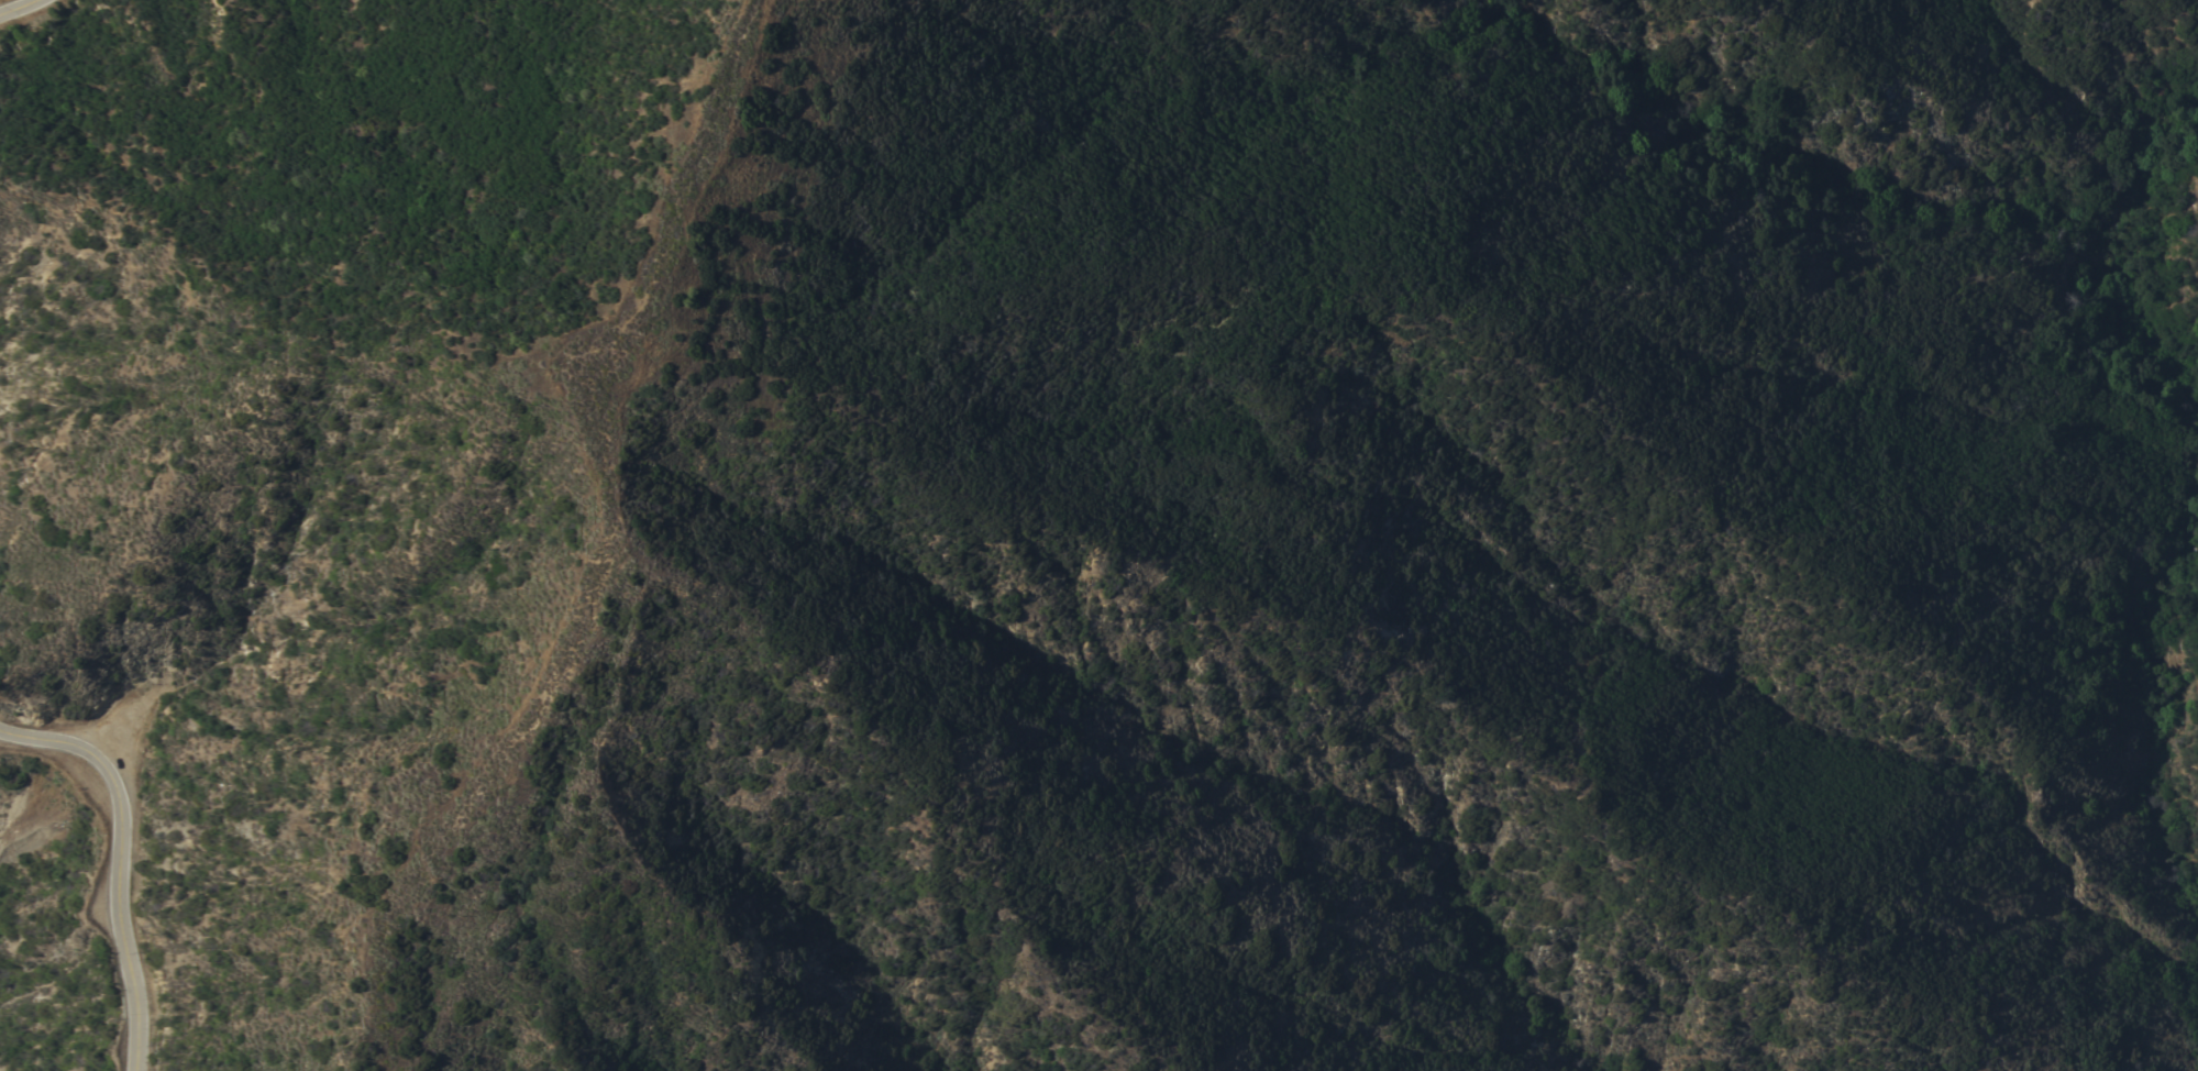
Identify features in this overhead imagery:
road: (14, 7)
road: (711, 184)
road: (513, 724)
road: (118, 861)

